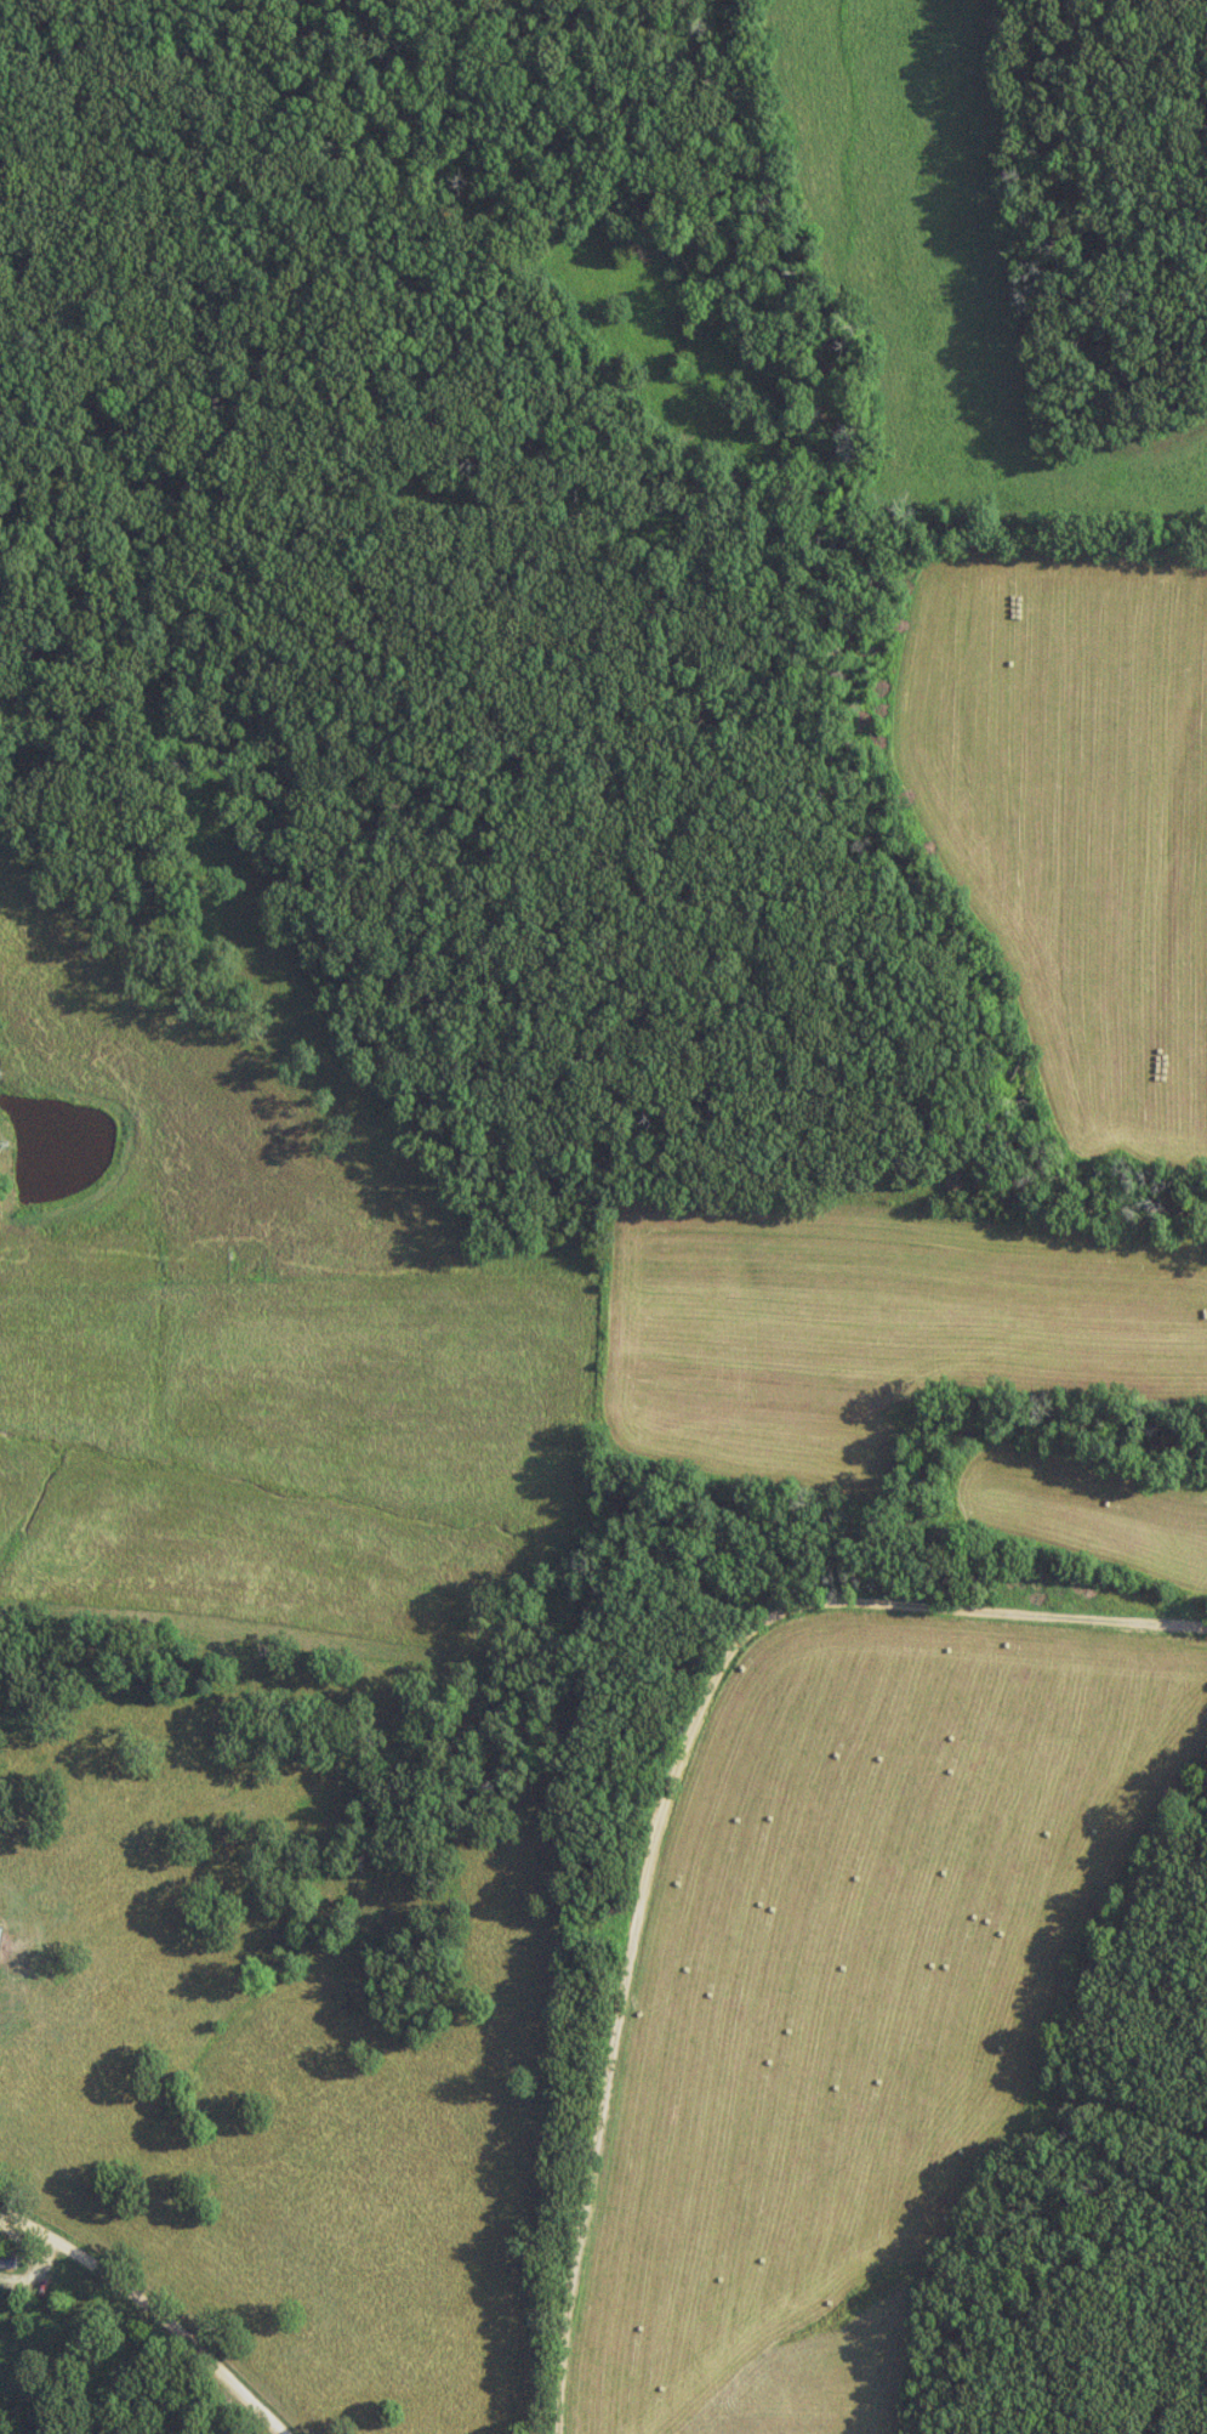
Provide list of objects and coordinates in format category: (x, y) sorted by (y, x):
building: (0, 1930)
building: (7, 2258)
road: (150, 2310)

